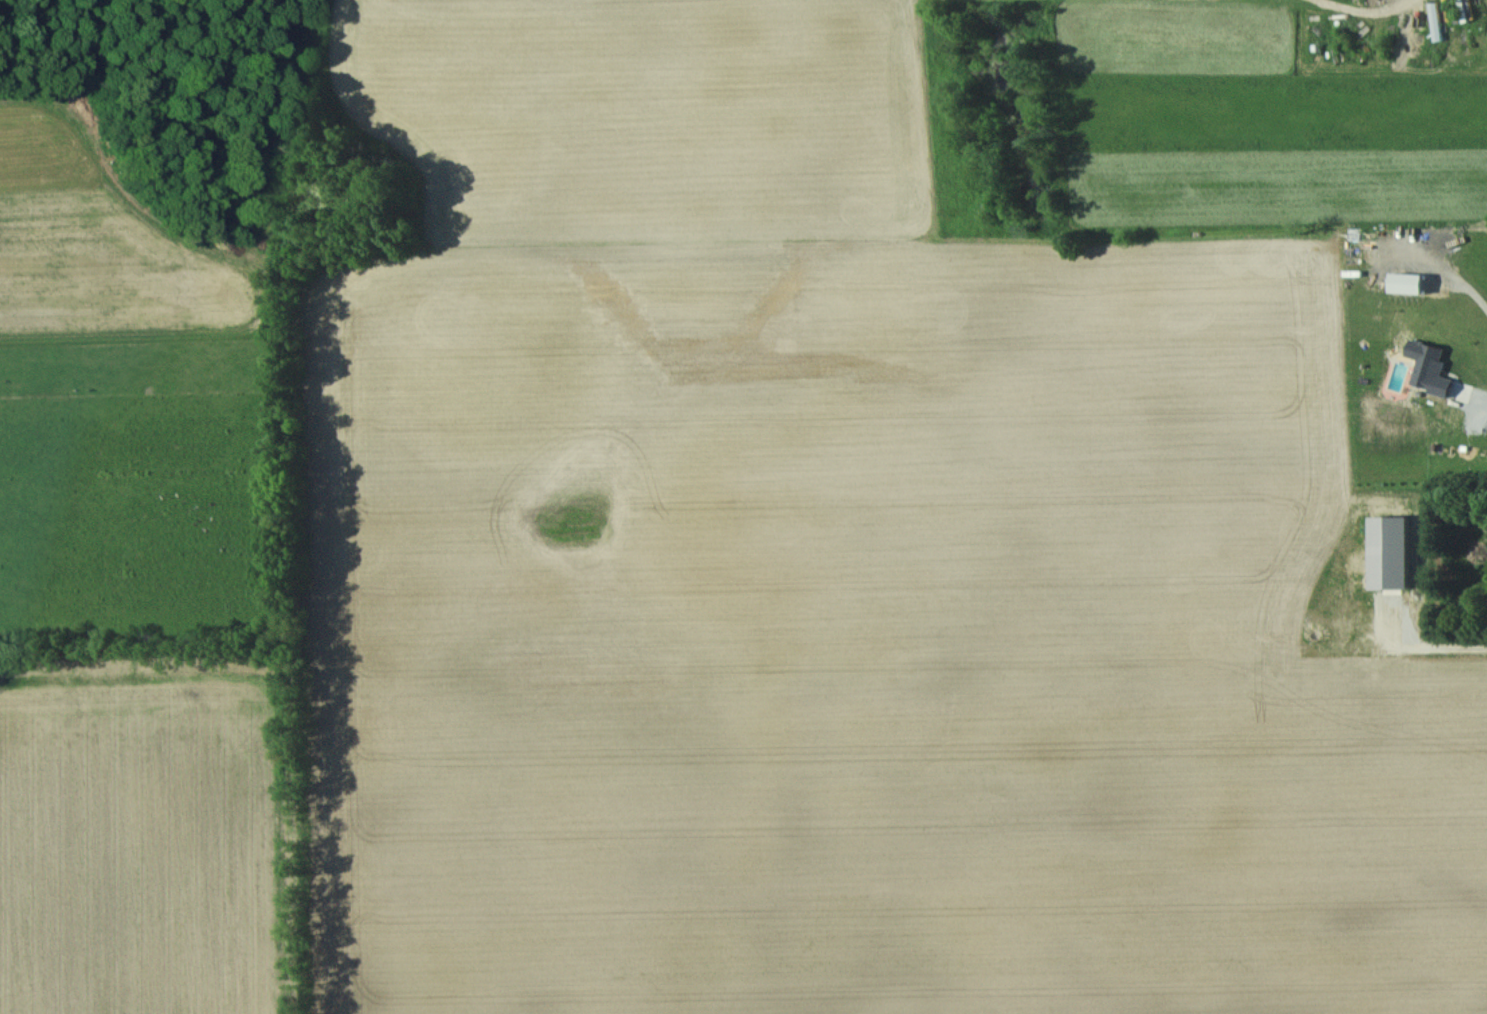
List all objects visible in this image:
road: (1362, 9)
road: (1453, 278)
building: (1408, 282)
building: (1429, 367)
building: (1459, 392)
building: (1391, 551)

